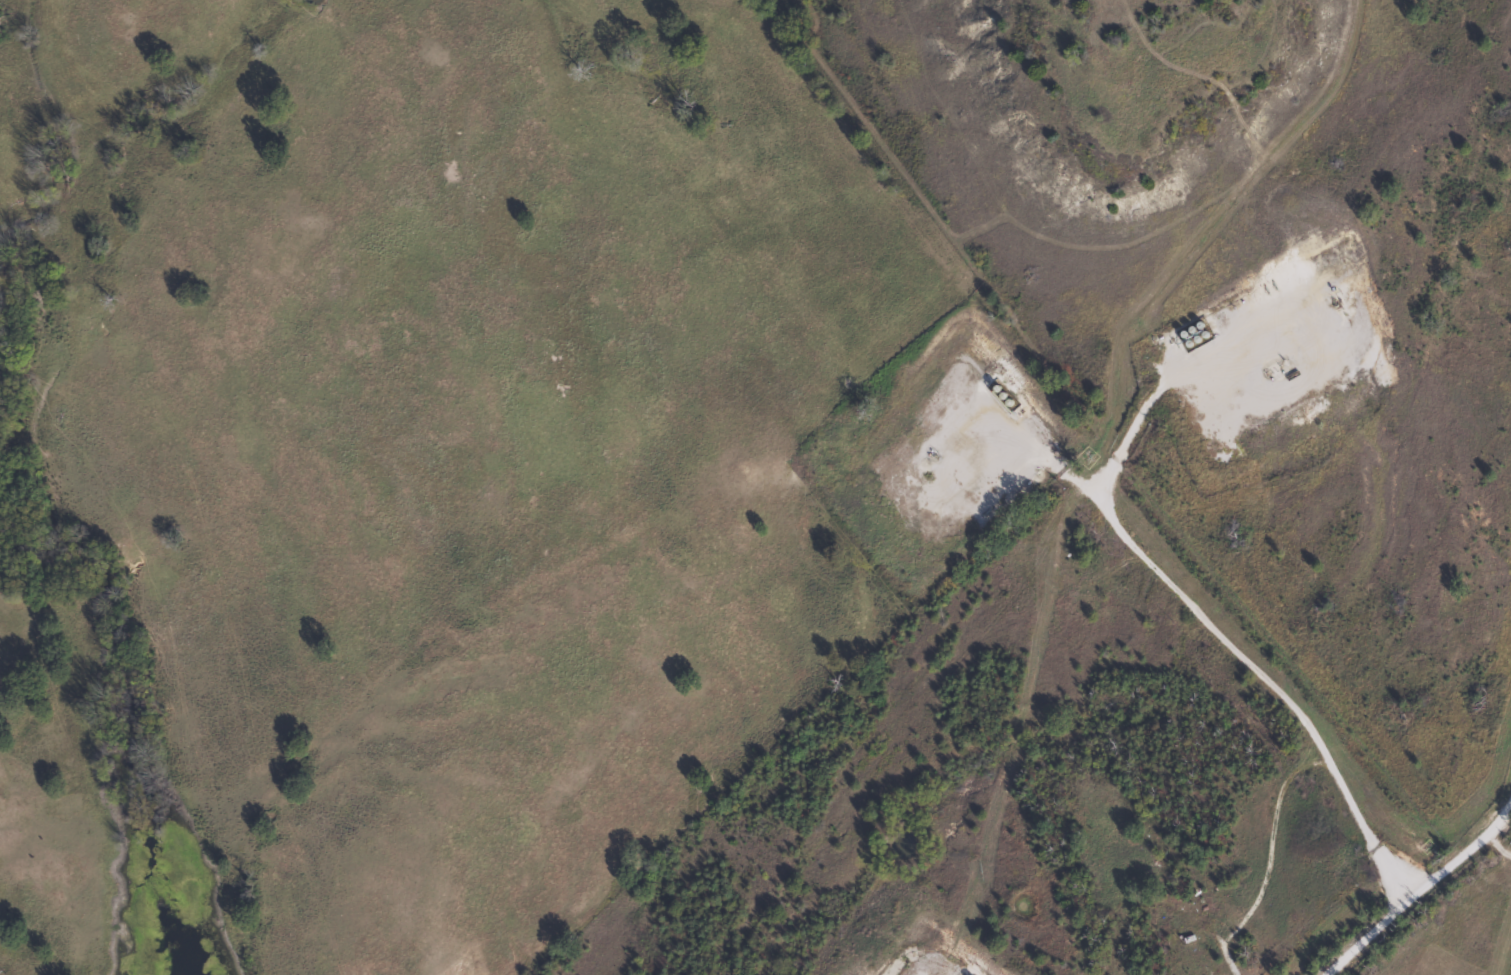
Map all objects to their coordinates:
road: (1142, 419)
road: (1257, 667)
road: (1432, 893)

